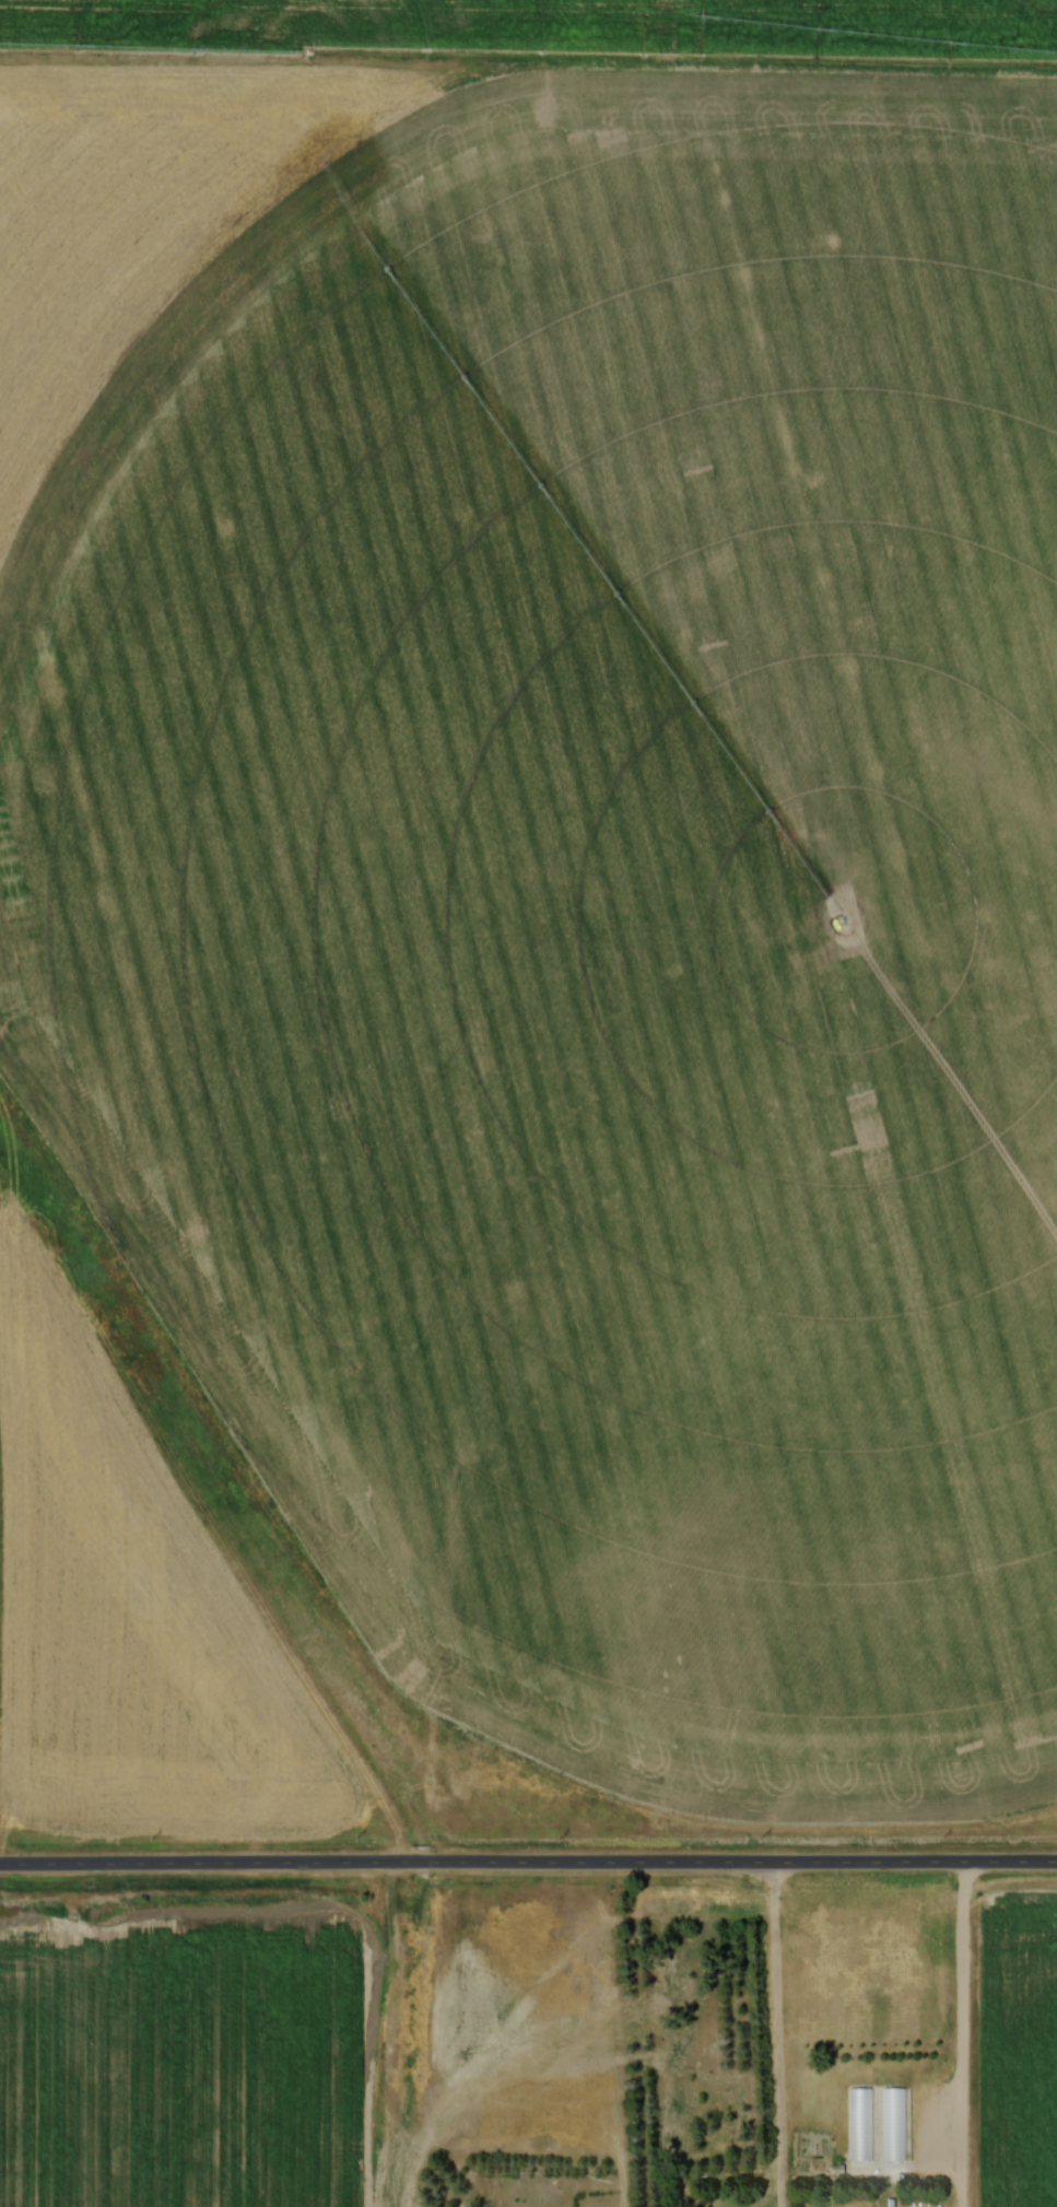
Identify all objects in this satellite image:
road: (528, 1862)
road: (778, 2034)
building: (862, 2124)
building: (895, 2124)

